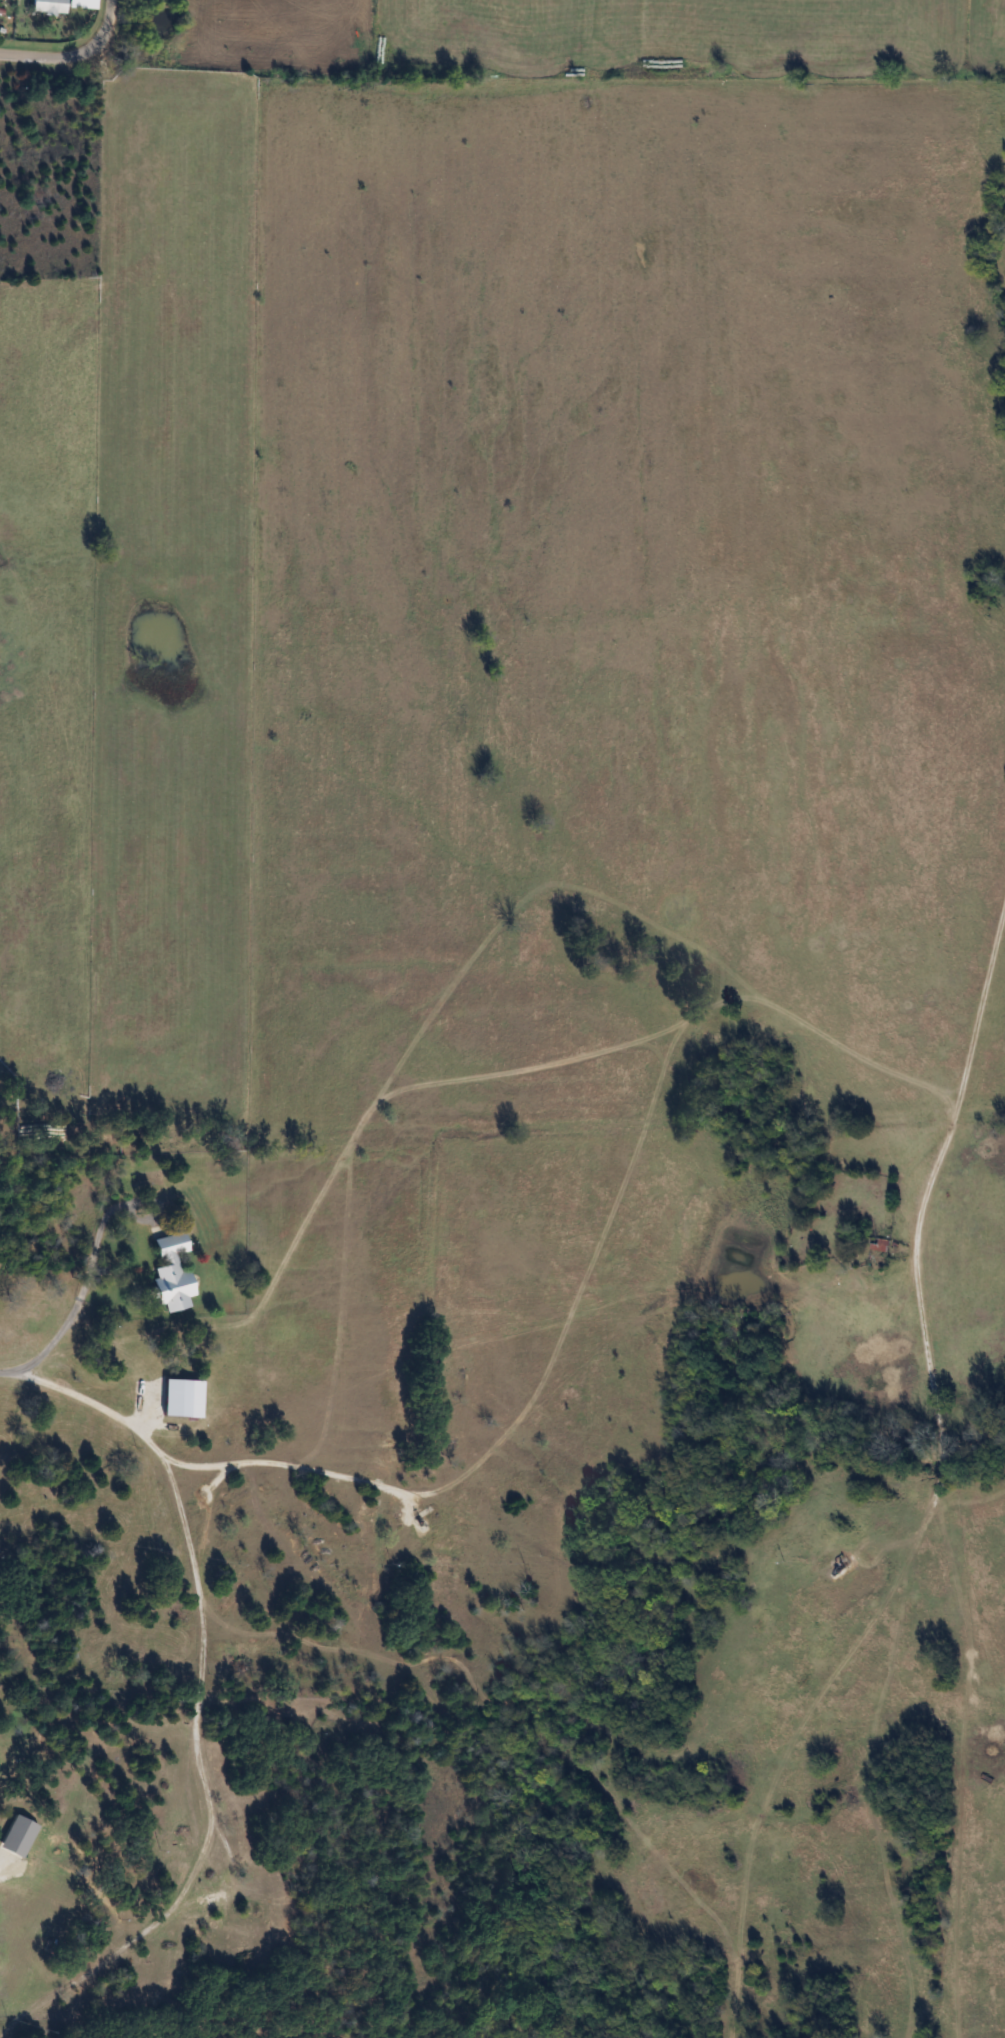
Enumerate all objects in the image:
building: (49, 7)
road: (74, 56)
road: (1000, 910)
building: (879, 1244)
road: (87, 1280)
road: (176, 1486)

